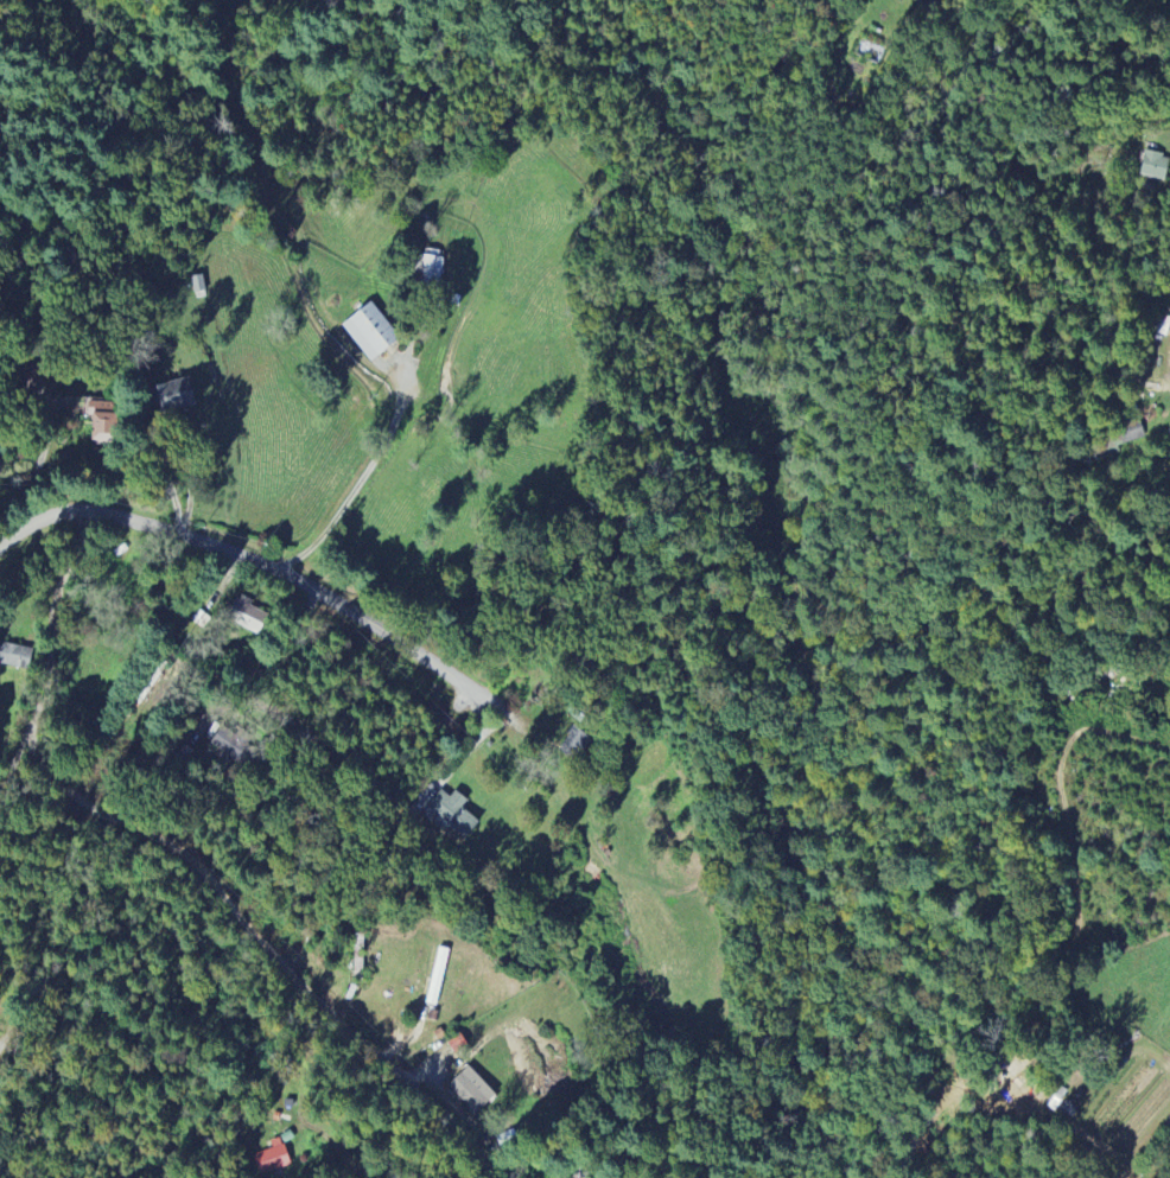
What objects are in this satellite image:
road: (871, 0)
building: (1155, 166)
building: (432, 267)
building: (371, 332)
building: (34, 380)
building: (173, 396)
building: (102, 424)
building: (1169, 428)
building: (1132, 434)
road: (171, 485)
road: (358, 485)
road: (243, 566)
building: (249, 618)
building: (15, 657)
road: (267, 658)
road: (509, 728)
building: (576, 744)
building: (234, 747)
road: (15, 762)
building: (453, 813)
road: (182, 867)
building: (438, 978)
road: (650, 1057)
building: (472, 1091)
road: (1039, 1122)
road: (298, 1155)
building: (272, 1159)

